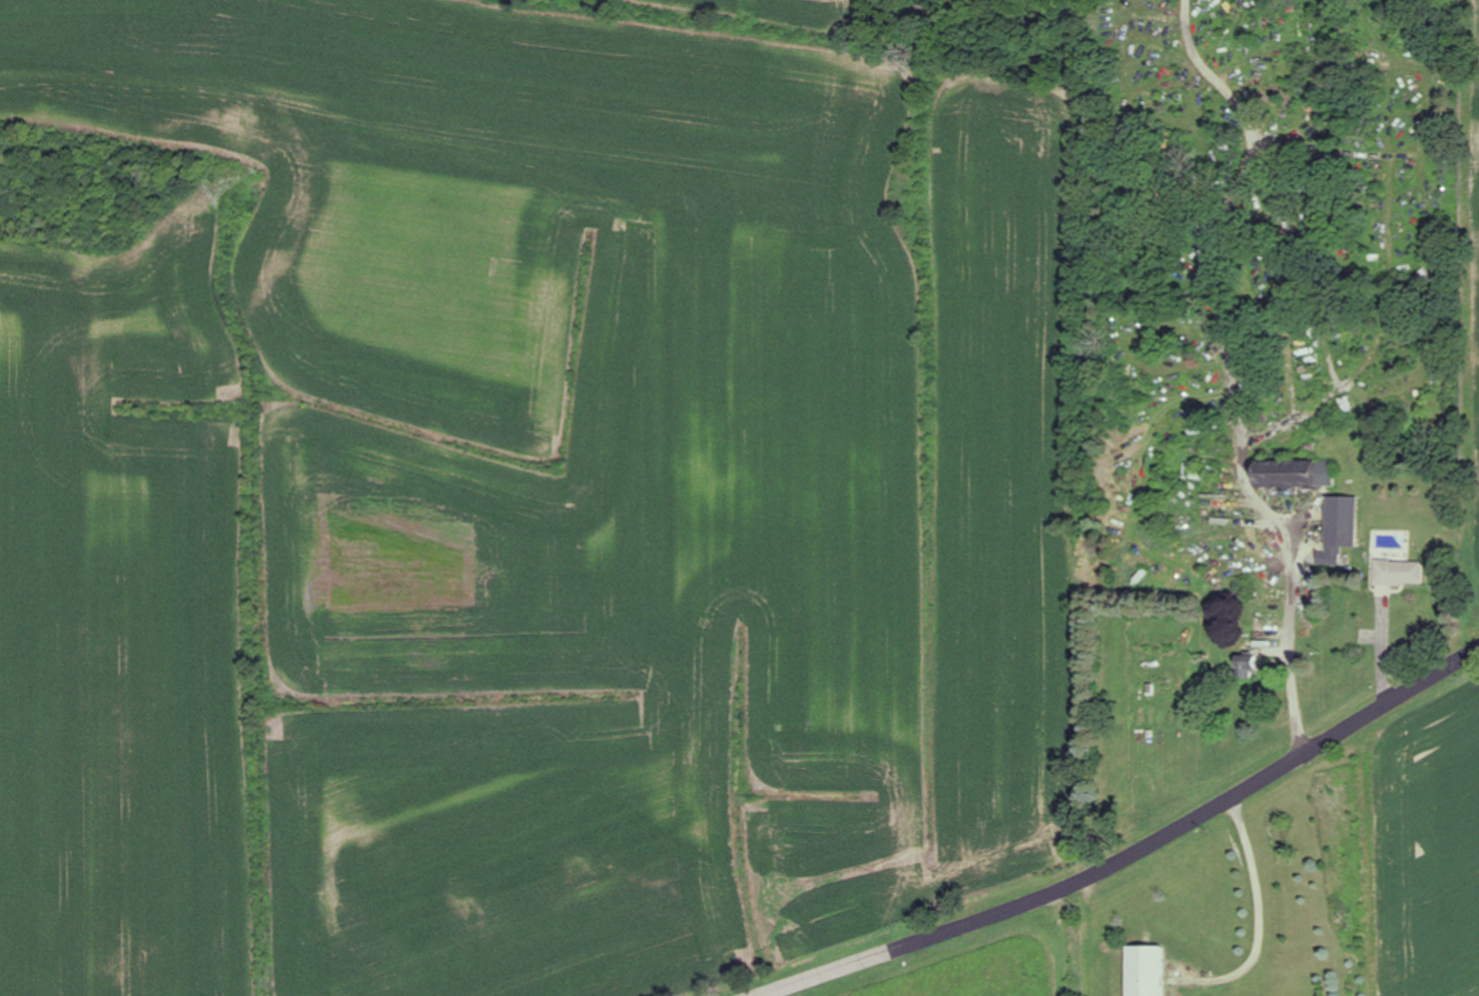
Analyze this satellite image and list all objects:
building: (1295, 474)
building: (1340, 529)
building: (1399, 573)
road: (1291, 654)
building: (1246, 667)
road: (1134, 856)
road: (1260, 910)
building: (1146, 971)

